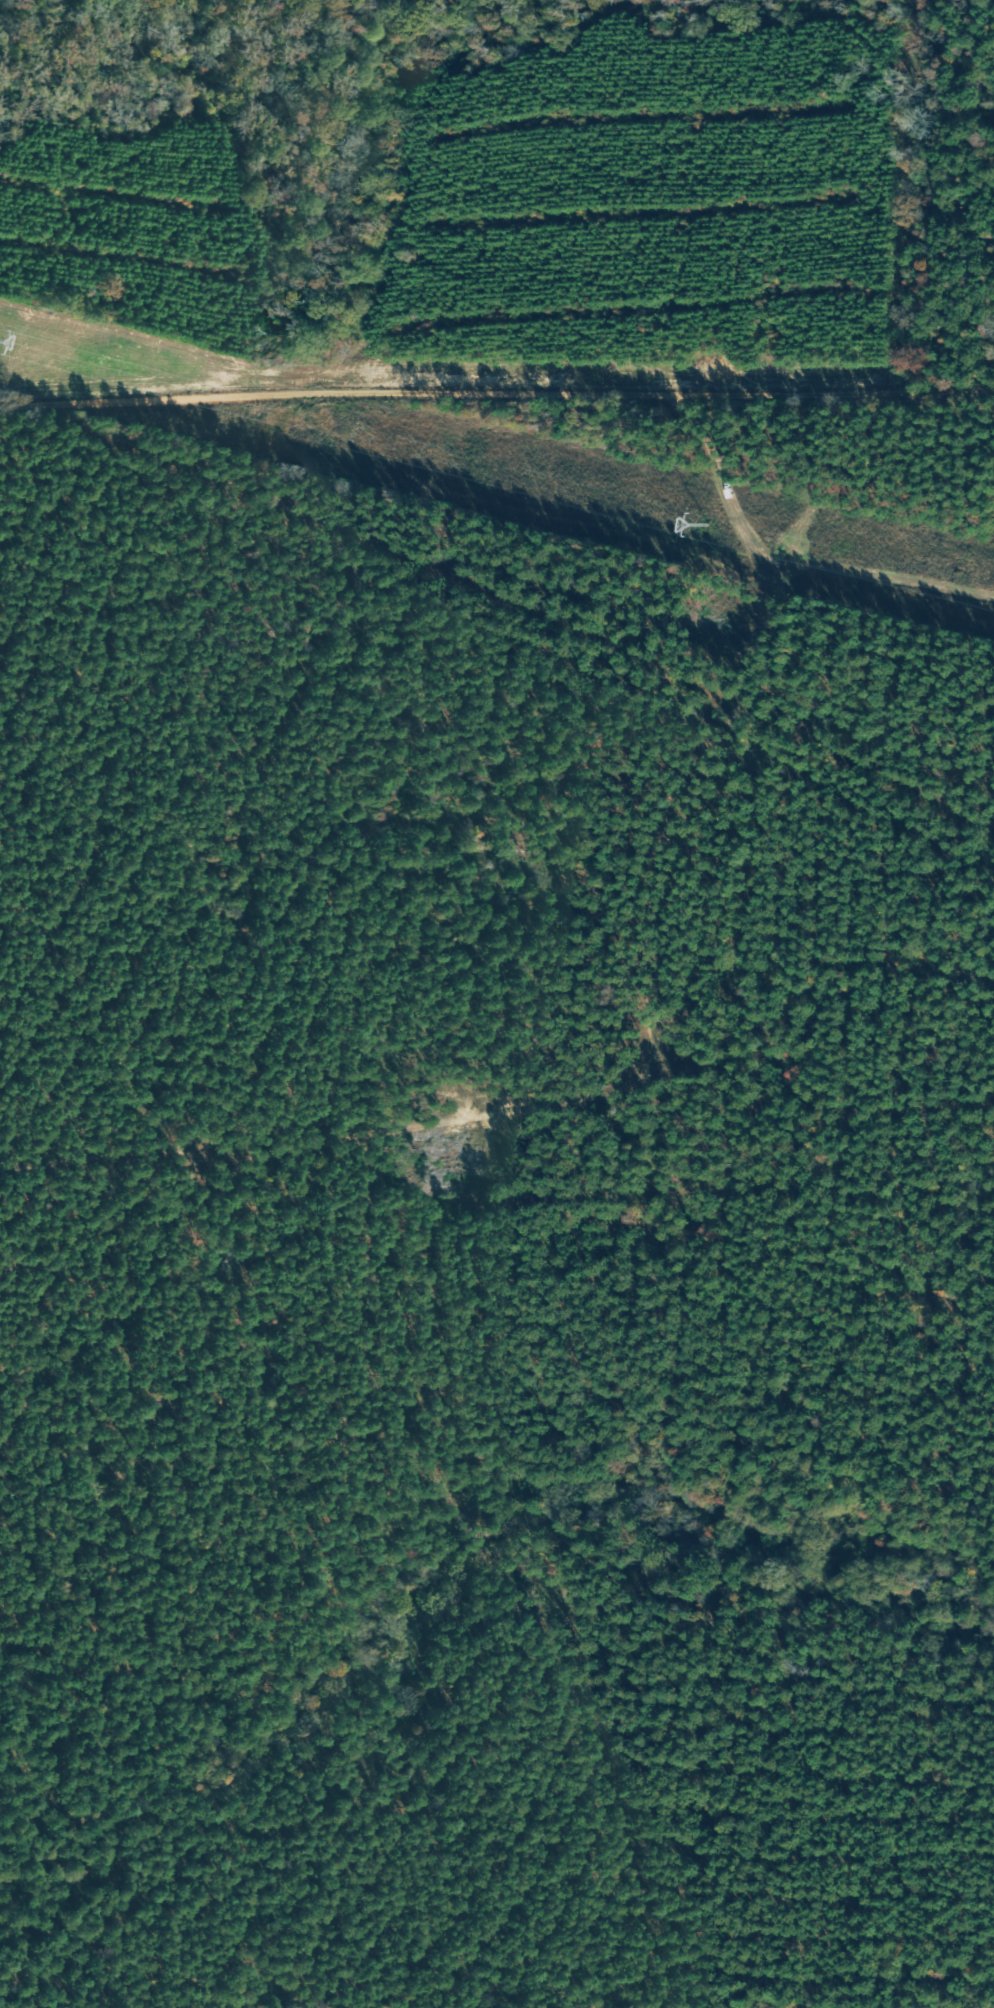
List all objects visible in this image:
road: (496, 391)
road: (12, 426)
power tower: (710, 524)

